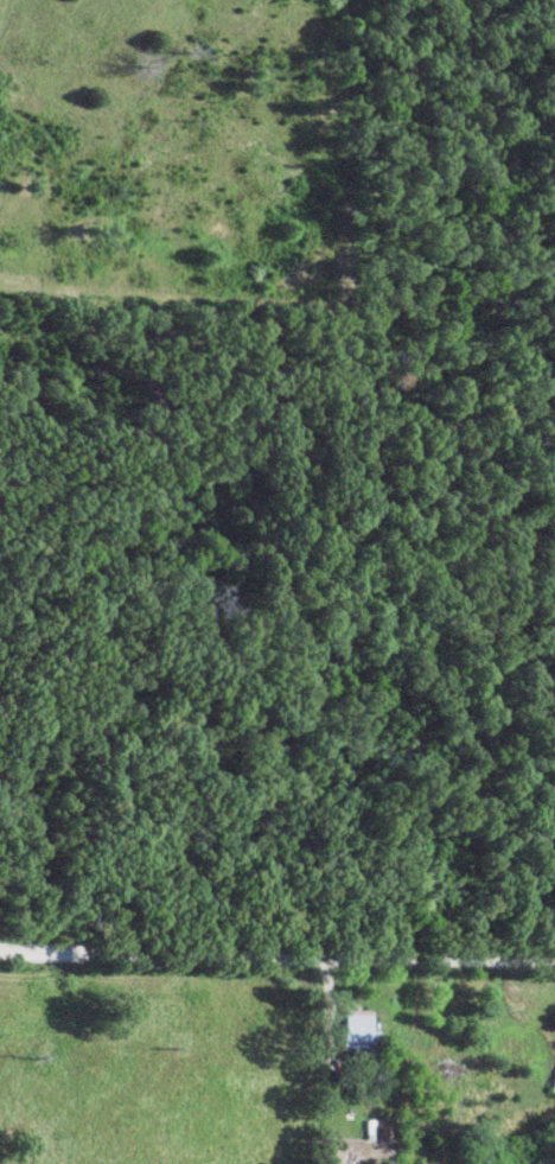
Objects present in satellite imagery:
road: (277, 980)
building: (361, 1032)

